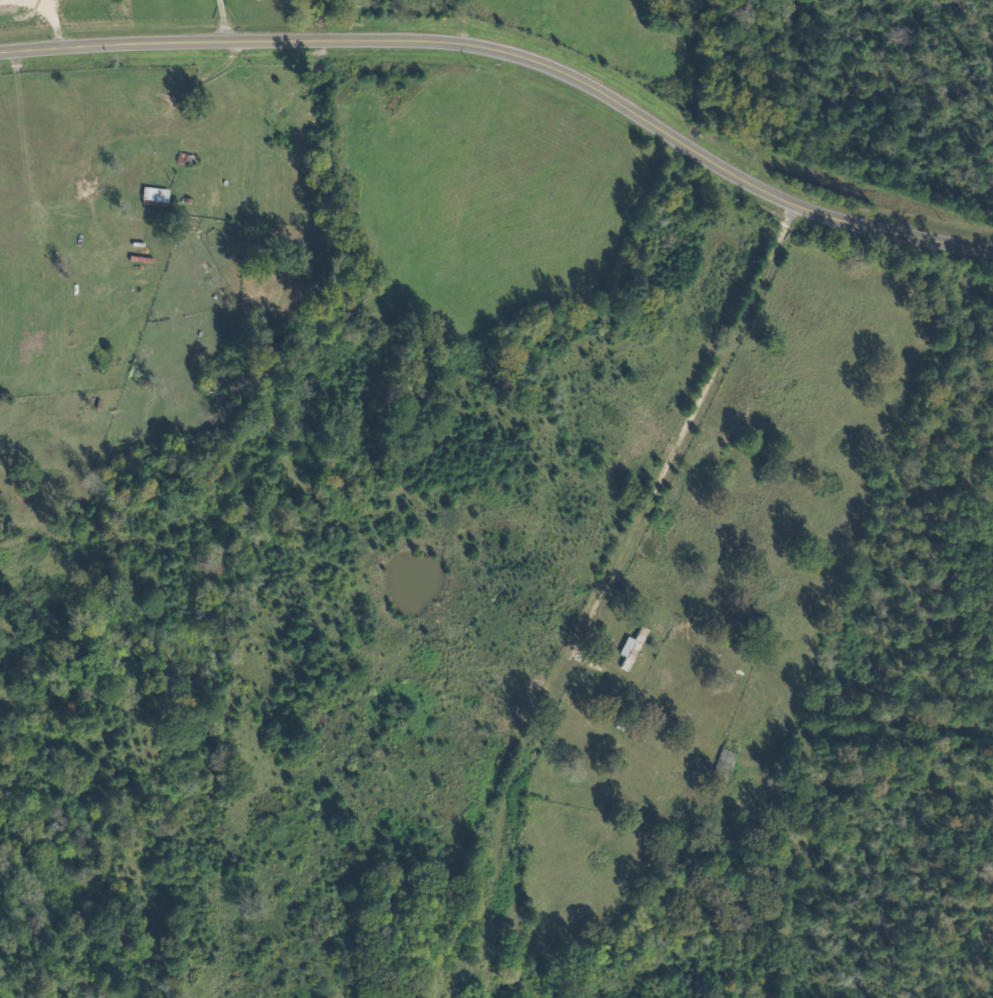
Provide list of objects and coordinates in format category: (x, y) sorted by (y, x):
road: (516, 56)
building: (189, 142)
building: (153, 194)
building: (630, 647)
building: (721, 766)

